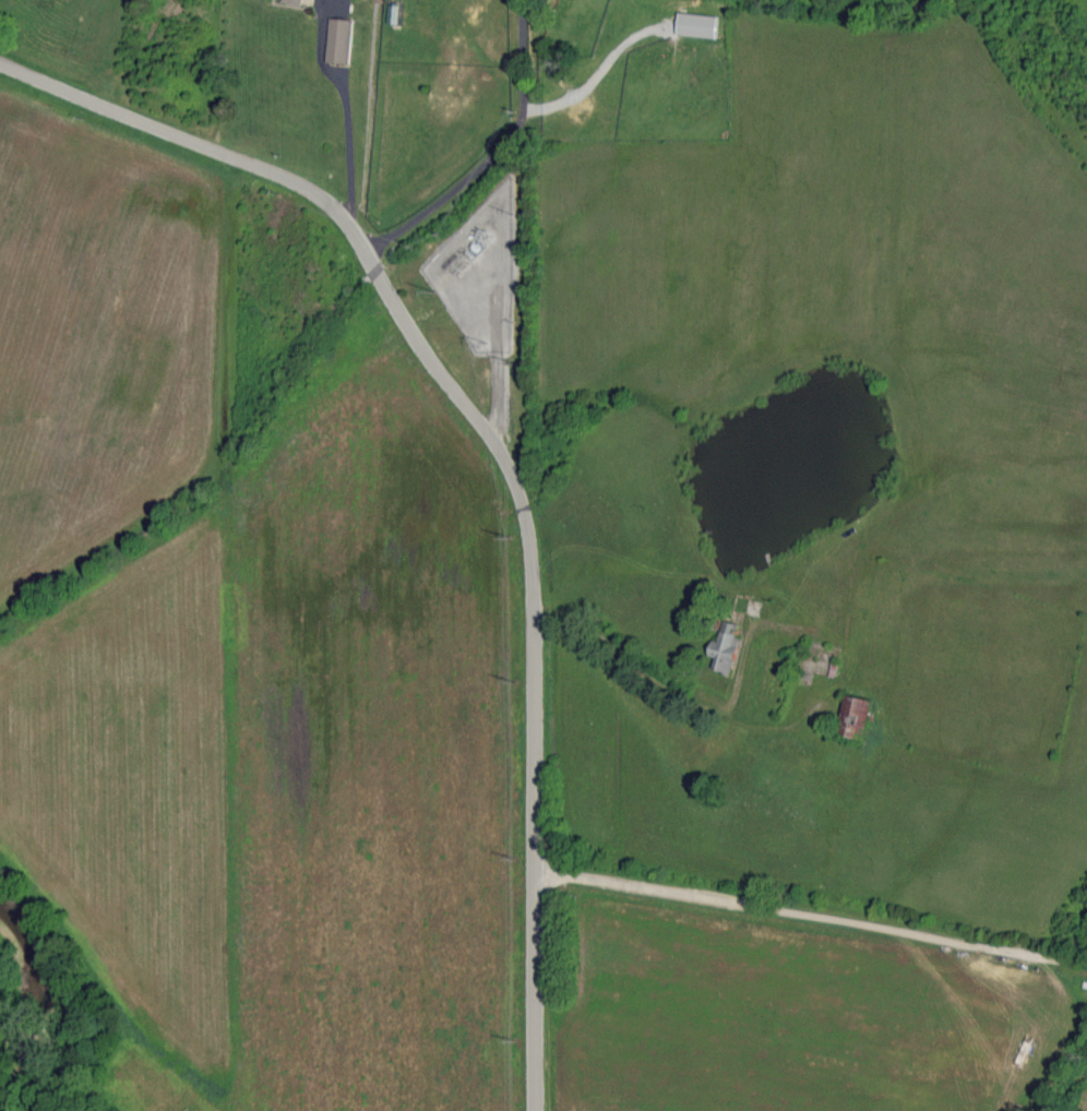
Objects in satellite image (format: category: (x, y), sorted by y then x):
building: (292, 1)
building: (698, 25)
building: (341, 40)
road: (356, 148)
road: (493, 151)
road: (501, 452)
building: (726, 648)
building: (855, 716)
road: (812, 916)
river: (57, 1001)

